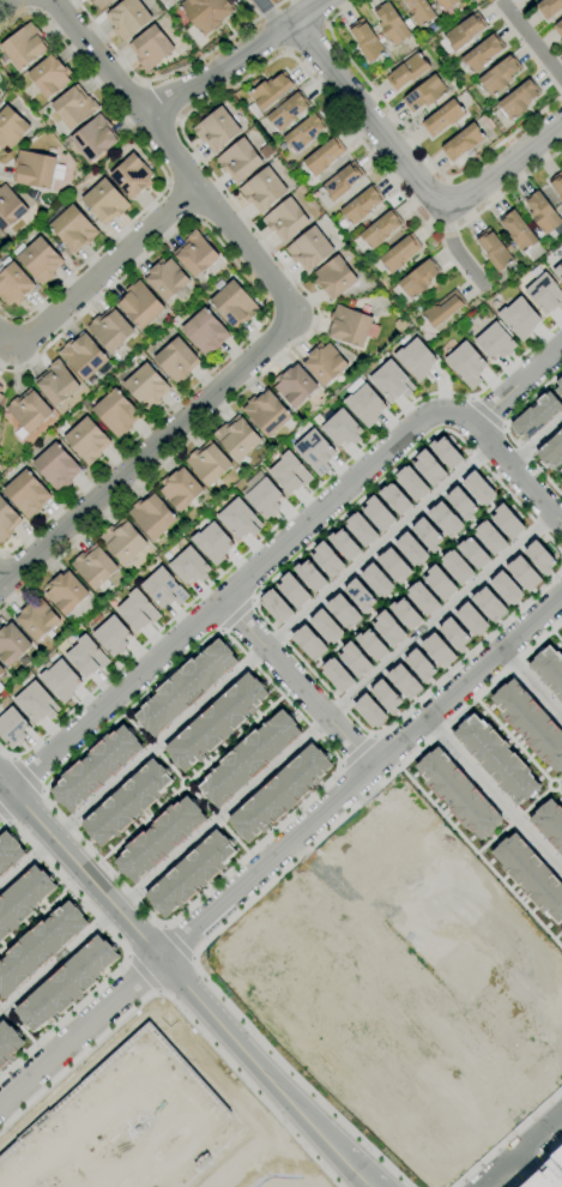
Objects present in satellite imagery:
building: (174, 0)
road: (4, 2)
building: (99, 2)
road: (26, 4)
building: (447, 4)
building: (549, 7)
road: (29, 11)
building: (419, 12)
building: (206, 13)
road: (271, 14)
building: (128, 19)
building: (391, 23)
building: (558, 29)
building: (465, 31)
building: (365, 41)
road: (533, 44)
building: (24, 46)
building: (151, 48)
building: (483, 54)
road: (236, 58)
road: (169, 72)
building: (407, 72)
building: (49, 76)
building: (500, 76)
building: (271, 90)
building: (424, 94)
building: (519, 100)
building: (74, 107)
building: (288, 112)
building: (442, 119)
building: (11, 127)
building: (217, 129)
building: (304, 133)
building: (95, 138)
building: (463, 143)
road: (416, 145)
road: (368, 152)
building: (324, 156)
building: (240, 161)
road: (159, 167)
building: (36, 169)
building: (132, 176)
road: (413, 177)
building: (343, 181)
road: (168, 183)
building: (557, 185)
building: (264, 189)
road: (183, 200)
building: (104, 201)
building: (362, 205)
building: (10, 207)
building: (543, 212)
road: (197, 218)
building: (285, 219)
building: (72, 227)
building: (381, 229)
building: (521, 235)
building: (309, 249)
road: (458, 251)
building: (494, 251)
building: (399, 253)
building: (195, 254)
building: (38, 259)
building: (558, 270)
road: (97, 275)
building: (334, 277)
building: (165, 279)
building: (418, 279)
building: (13, 283)
building: (544, 294)
building: (232, 303)
building: (139, 305)
road: (266, 307)
building: (443, 308)
building: (518, 317)
road: (298, 319)
building: (349, 326)
building: (110, 330)
building: (205, 332)
building: (494, 342)
building: (83, 356)
building: (415, 358)
building: (176, 361)
building: (324, 363)
building: (465, 363)
building: (389, 381)
building: (56, 382)
road: (252, 382)
building: (295, 386)
building: (146, 387)
building: (558, 387)
building: (0, 388)
building: (1, 391)
building: (1, 397)
road: (469, 398)
building: (363, 404)
building: (29, 411)
building: (266, 412)
road: (484, 412)
building: (116, 414)
building: (534, 415)
road: (502, 426)
building: (340, 427)
road: (506, 432)
building: (237, 438)
building: (86, 440)
road: (536, 441)
building: (551, 450)
building: (313, 451)
building: (445, 452)
building: (209, 463)
building: (428, 466)
building: (56, 468)
building: (288, 472)
road: (516, 472)
road: (554, 475)
building: (561, 480)
building: (410, 483)
building: (477, 488)
building: (180, 489)
building: (26, 494)
building: (262, 498)
building: (393, 498)
building: (460, 502)
building: (376, 512)
building: (151, 516)
road: (558, 516)
building: (443, 518)
building: (237, 519)
building: (7, 520)
building: (506, 520)
road: (274, 525)
building: (359, 529)
building: (425, 534)
building: (489, 537)
building: (122, 541)
building: (211, 542)
building: (343, 544)
building: (410, 549)
road: (273, 552)
building: (472, 552)
road: (2, 554)
road: (1, 556)
building: (538, 556)
building: (326, 559)
building: (188, 565)
building: (393, 565)
building: (455, 566)
building: (93, 567)
building: (521, 572)
building: (309, 574)
building: (375, 580)
road: (409, 580)
building: (439, 582)
road: (1, 585)
building: (162, 588)
building: (504, 588)
building: (291, 590)
building: (65, 592)
building: (358, 595)
building: (421, 598)
road: (252, 601)
road: (255, 603)
building: (488, 603)
building: (274, 605)
building: (135, 610)
building: (342, 610)
building: (404, 613)
road: (234, 615)
building: (36, 619)
building: (470, 619)
building: (325, 626)
building: (387, 628)
road: (220, 631)
building: (453, 633)
building: (110, 635)
road: (556, 637)
building: (307, 641)
building: (370, 644)
building: (12, 645)
building: (436, 649)
building: (85, 656)
building: (353, 658)
building: (418, 664)
road: (246, 667)
building: (1, 670)
building: (548, 670)
building: (336, 675)
building: (59, 680)
building: (403, 680)
road: (295, 683)
building: (183, 686)
road: (532, 686)
road: (282, 695)
building: (385, 695)
building: (35, 703)
building: (368, 711)
building: (214, 722)
building: (528, 723)
building: (12, 727)
road: (235, 736)
road: (371, 736)
road: (512, 740)
road: (151, 746)
road: (356, 751)
building: (248, 757)
road: (12, 758)
building: (494, 758)
road: (339, 764)
road: (278, 765)
building: (95, 767)
road: (26, 776)
road: (186, 778)
road: (558, 778)
road: (549, 779)
road: (42, 790)
building: (279, 793)
road: (558, 793)
building: (457, 794)
road: (494, 794)
road: (534, 800)
building: (127, 802)
road: (373, 803)
road: (4, 815)
road: (220, 817)
road: (513, 818)
road: (6, 823)
road: (140, 823)
building: (549, 824)
building: (158, 838)
road: (490, 838)
road: (279, 849)
building: (8, 850)
road: (479, 858)
building: (189, 874)
building: (530, 876)
road: (259, 892)
building: (23, 897)
road: (34, 917)
road: (162, 924)
road: (557, 934)
road: (176, 942)
building: (38, 946)
road: (121, 950)
road: (125, 956)
road: (193, 958)
road: (141, 972)
road: (187, 982)
building: (65, 983)
road: (157, 992)
road: (358, 998)
road: (180, 1008)
road: (16, 1024)
building: (7, 1042)
building: (121, 1123)
road: (507, 1137)
road: (255, 1144)
road: (520, 1149)
road: (533, 1162)
building: (546, 1171)
road: (222, 1182)

